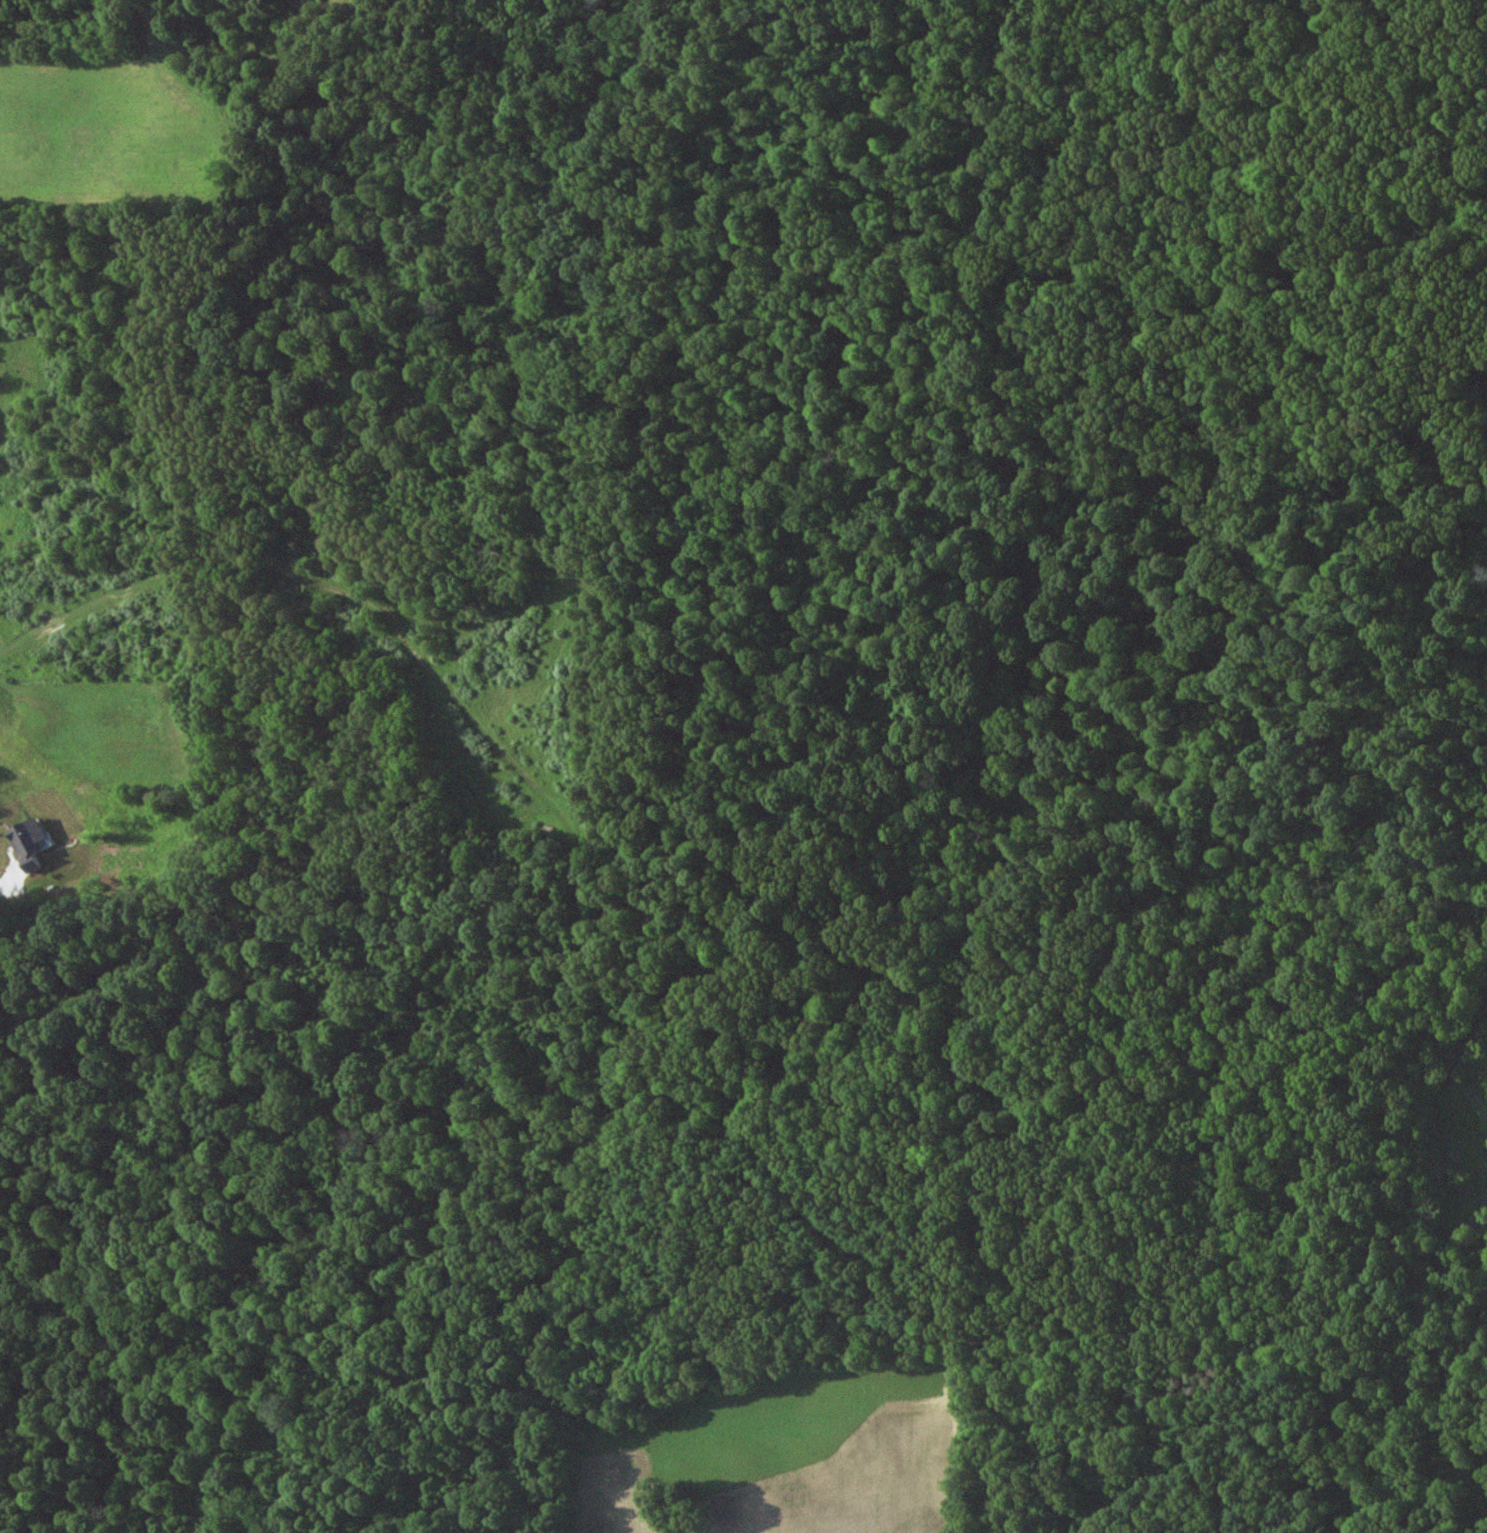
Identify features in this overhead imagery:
building: (18, 862)

